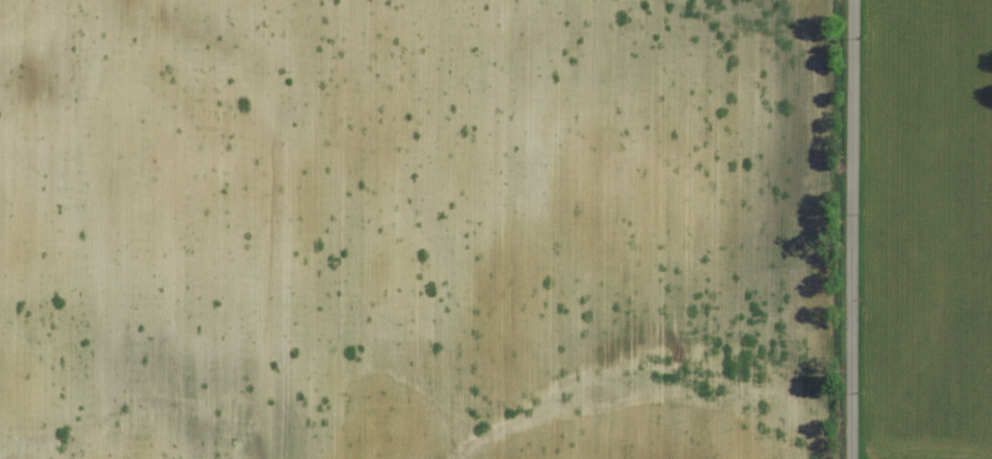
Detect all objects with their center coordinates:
road: (854, 229)

